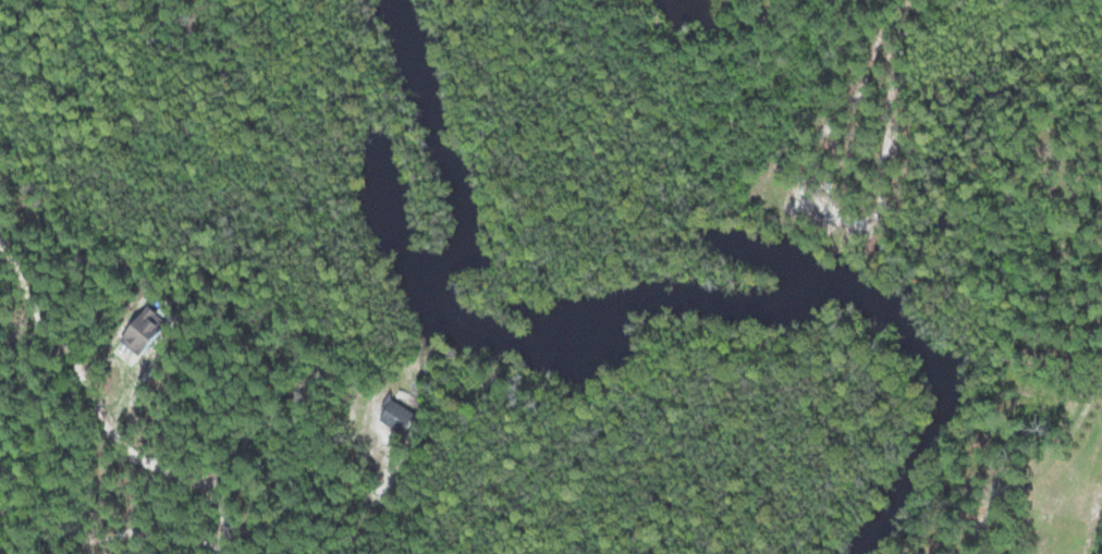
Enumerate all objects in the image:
building: (133, 331)
building: (393, 415)
road: (138, 455)
road: (1040, 463)

